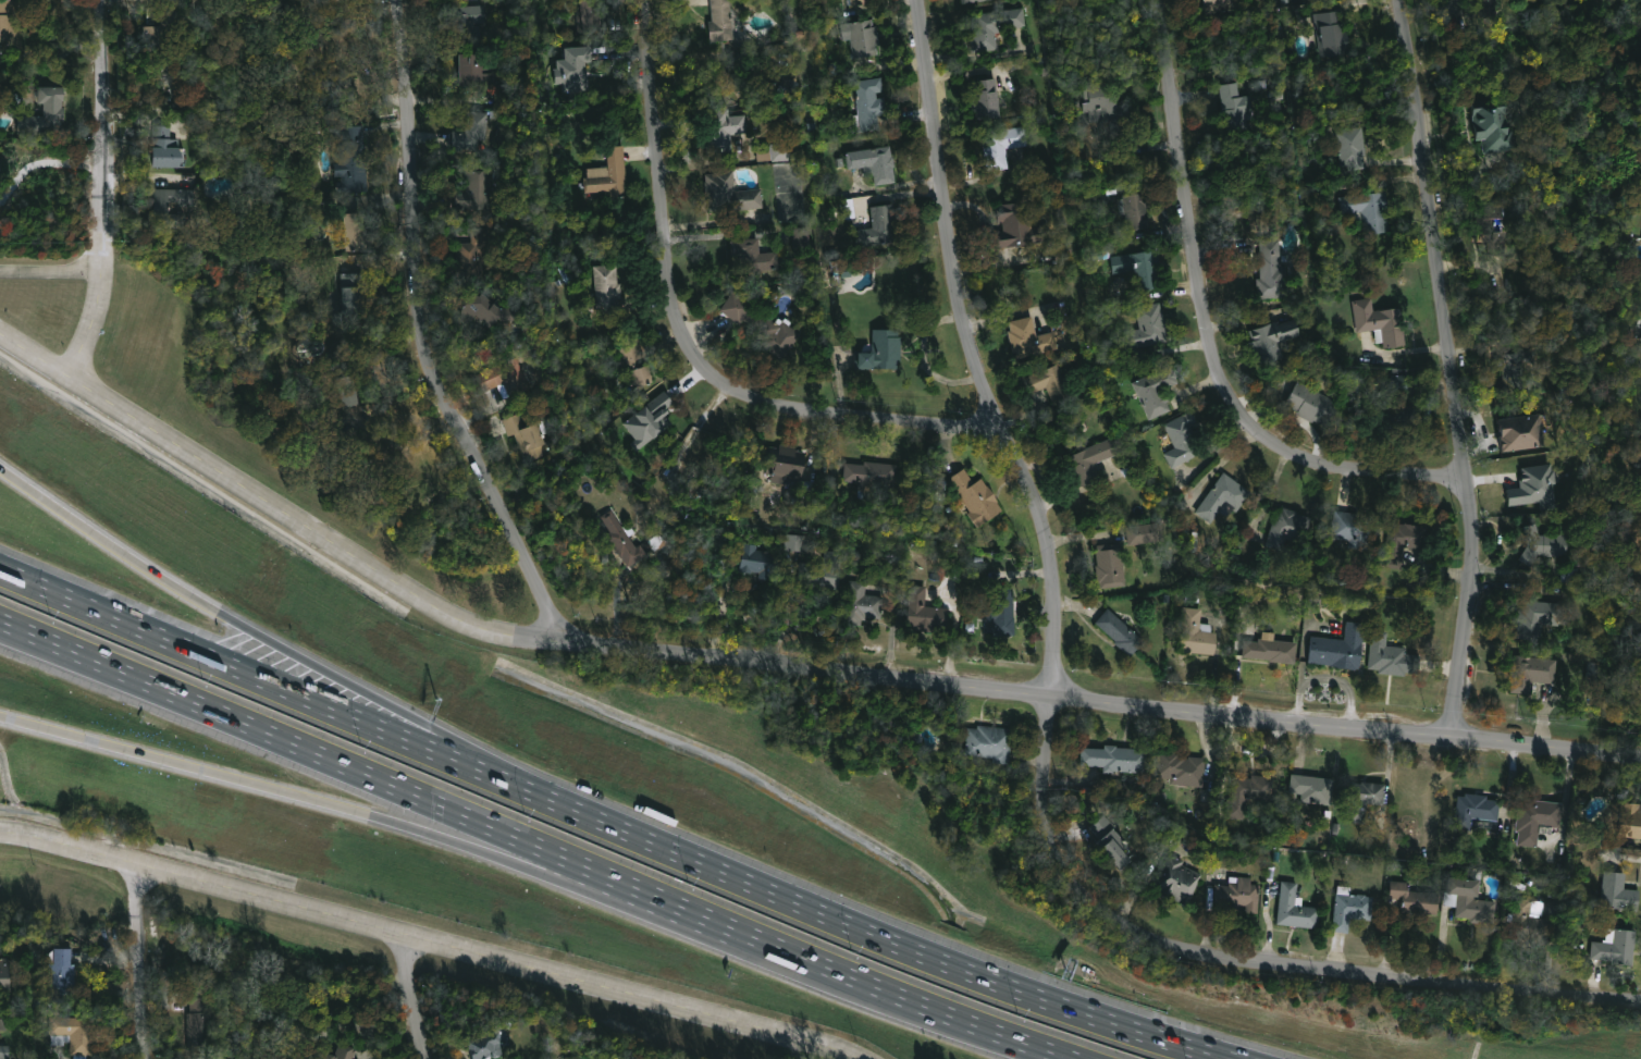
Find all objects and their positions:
building: (857, 1)
building: (975, 1)
building: (1220, 3)
road: (1336, 3)
building: (1490, 8)
building: (589, 14)
building: (721, 17)
building: (472, 19)
building: (10, 21)
building: (991, 25)
building: (162, 27)
building: (1333, 33)
building: (865, 38)
building: (340, 42)
road: (719, 57)
building: (811, 60)
building: (477, 69)
building: (572, 70)
building: (989, 97)
building: (1237, 102)
building: (871, 104)
building: (1102, 108)
building: (47, 111)
building: (1498, 124)
building: (725, 125)
building: (474, 130)
building: (1354, 143)
building: (1002, 146)
building: (168, 148)
building: (776, 151)
building: (355, 160)
building: (875, 162)
road: (44, 163)
building: (609, 173)
road: (104, 190)
building: (478, 190)
building: (731, 193)
road: (897, 195)
building: (170, 206)
building: (1370, 210)
building: (1138, 211)
building: (1020, 224)
building: (878, 226)
building: (1491, 230)
building: (356, 233)
building: (802, 238)
building: (754, 255)
building: (474, 256)
building: (1139, 268)
building: (1272, 271)
road: (51, 272)
building: (608, 288)
building: (1467, 292)
building: (349, 294)
building: (737, 307)
building: (486, 310)
building: (1382, 322)
building: (1151, 324)
road: (1209, 330)
building: (780, 334)
building: (1274, 337)
building: (1031, 338)
road: (688, 340)
road: (421, 341)
building: (883, 350)
road: (973, 354)
road: (926, 356)
building: (638, 364)
road: (1454, 367)
building: (1513, 370)
building: (505, 378)
building: (347, 379)
building: (1398, 382)
building: (1056, 383)
building: (1156, 391)
building: (1313, 404)
building: (1407, 416)
building: (646, 421)
building: (1526, 433)
road: (409, 438)
building: (527, 438)
building: (1184, 439)
building: (787, 461)
building: (1091, 463)
building: (876, 473)
building: (1534, 488)
building: (977, 497)
building: (1223, 498)
building: (1288, 527)
building: (1355, 529)
building: (1148, 532)
building: (626, 538)
building: (1404, 542)
building: (794, 543)
building: (1546, 543)
building: (761, 562)
building: (1112, 564)
building: (824, 572)
road: (173, 582)
road: (619, 591)
road: (636, 600)
building: (865, 602)
building: (926, 612)
building: (1003, 612)
road: (788, 614)
building: (1545, 617)
building: (1639, 626)
building: (1122, 632)
building: (1197, 635)
building: (1342, 649)
building: (1272, 651)
building: (1393, 656)
road: (778, 663)
building: (1535, 673)
road: (299, 694)
building: (991, 743)
road: (478, 751)
building: (1118, 759)
building: (1182, 769)
road: (230, 776)
building: (1313, 789)
building: (1246, 796)
building: (1366, 799)
building: (1477, 810)
building: (1534, 818)
building: (1630, 821)
road: (495, 828)
building: (1113, 839)
building: (1177, 881)
building: (1619, 892)
building: (1241, 894)
building: (1416, 898)
building: (1471, 901)
building: (1296, 909)
building: (1352, 910)
building: (1531, 923)
road: (422, 939)
road: (724, 939)
building: (1617, 947)
road: (912, 949)
road: (144, 960)
road: (1250, 961)
building: (62, 974)
building: (5, 975)
road: (416, 996)
building: (3, 1022)
building: (203, 1023)
building: (74, 1031)
road: (1031, 1045)
building: (485, 1046)
building: (3, 1051)
building: (344, 1052)
building: (215, 1056)

